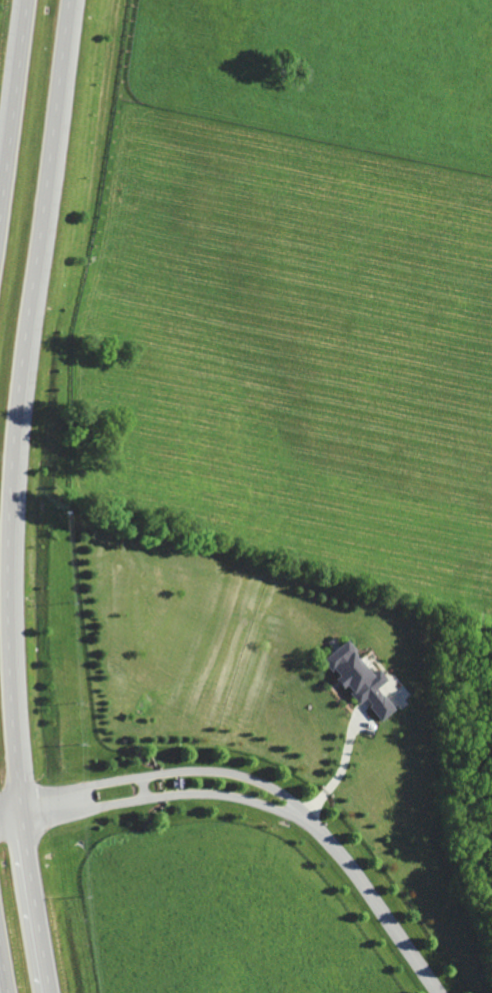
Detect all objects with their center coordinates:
road: (65, 3)
road: (12, 100)
road: (9, 499)
building: (357, 679)
road: (166, 771)
road: (329, 775)
road: (142, 787)
road: (161, 796)
road: (381, 908)
road: (3, 970)

